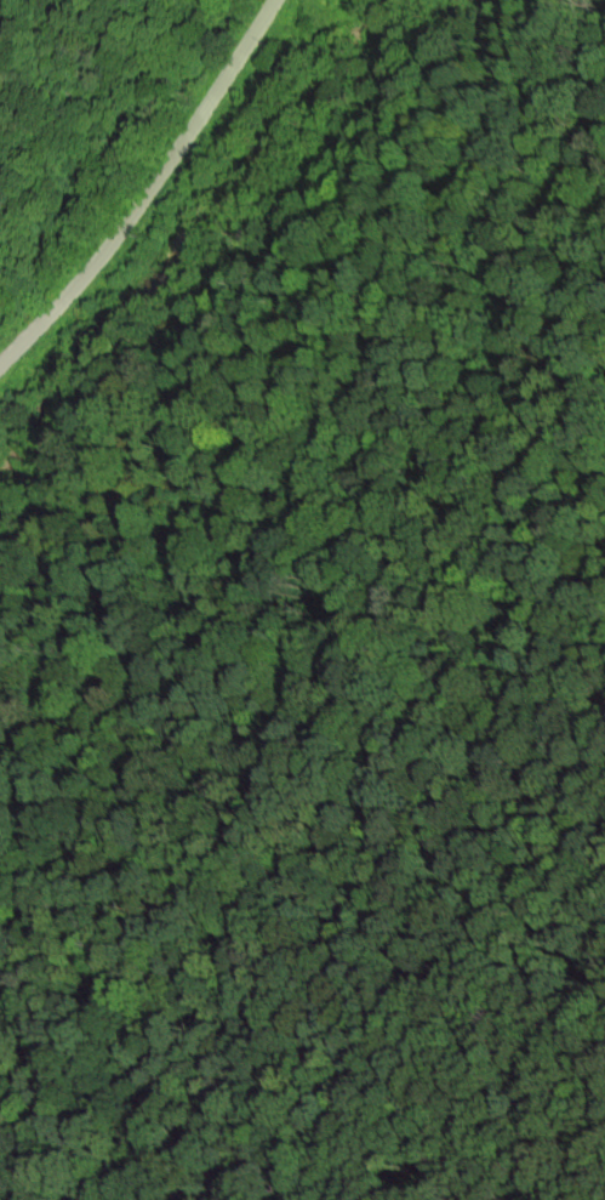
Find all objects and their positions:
road: (148, 192)

